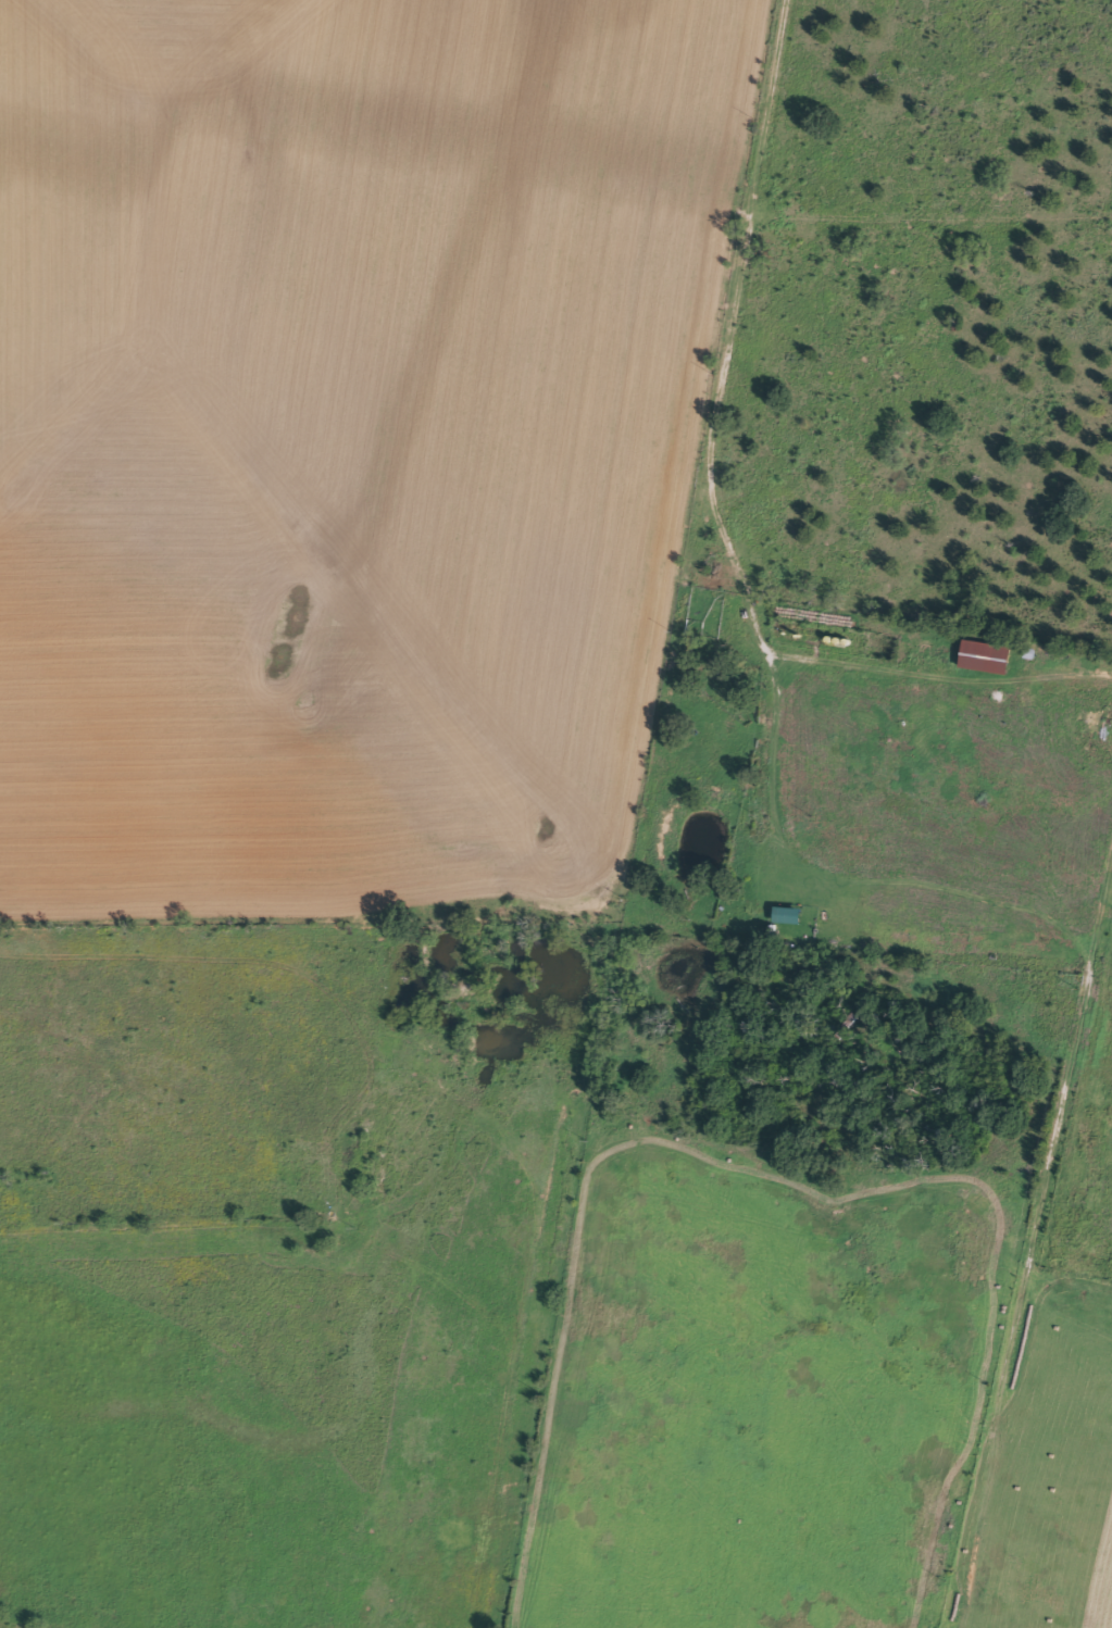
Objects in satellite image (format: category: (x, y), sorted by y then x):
building: (980, 656)

